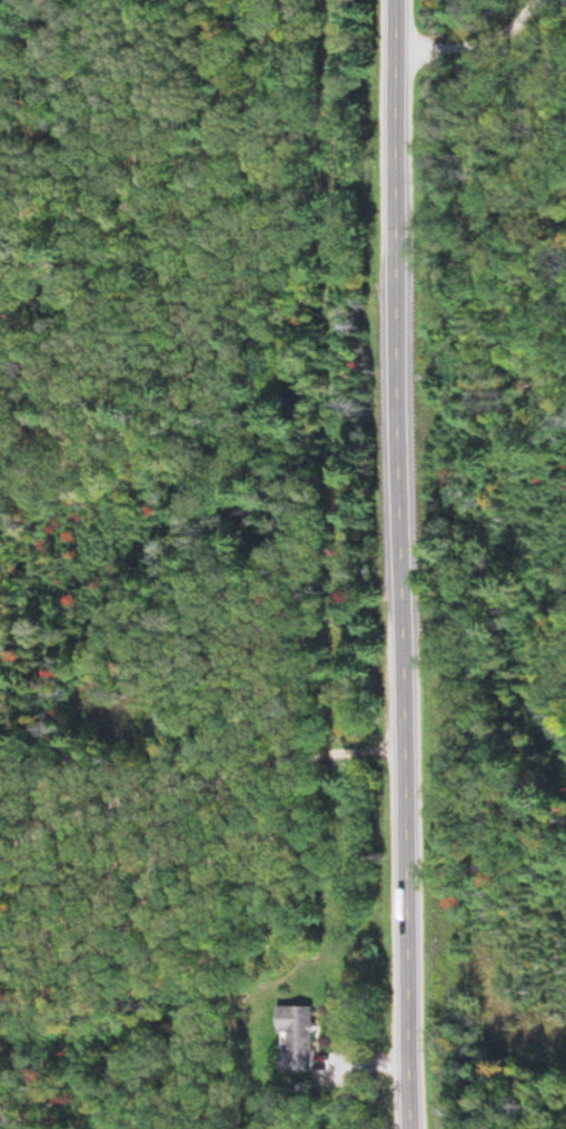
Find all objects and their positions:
road: (401, 563)
road: (201, 759)
building: (292, 1040)

